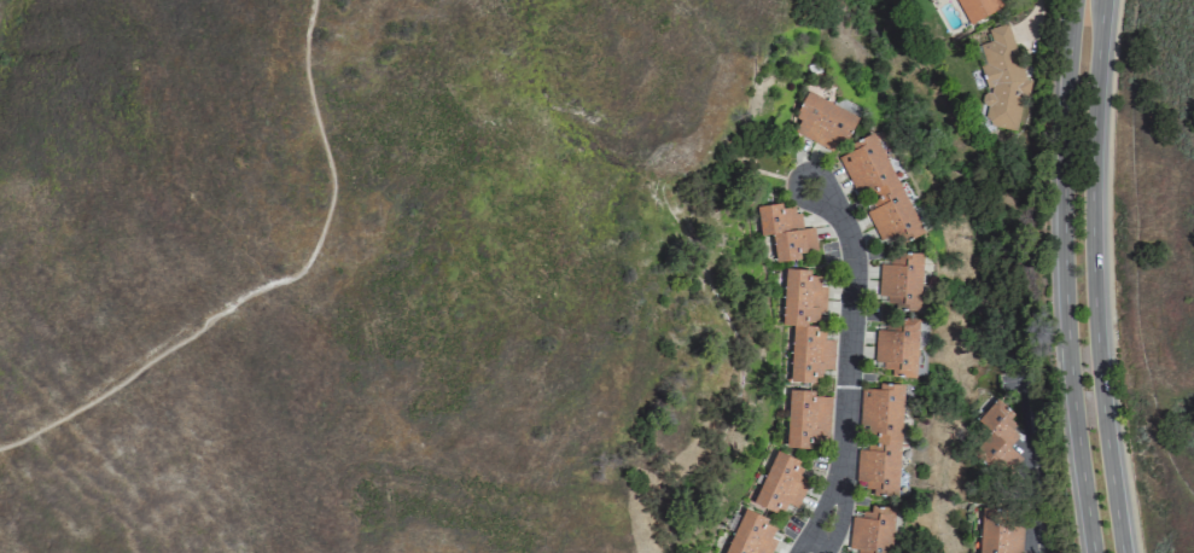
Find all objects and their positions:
building: (977, 8)
building: (1002, 77)
building: (822, 121)
building: (879, 191)
building: (784, 231)
road: (1064, 276)
road: (1093, 276)
building: (901, 280)
road: (270, 285)
building: (805, 325)
building: (897, 348)
road: (849, 362)
building: (808, 419)
building: (997, 438)
building: (879, 441)
road: (1033, 456)
building: (780, 484)
building: (872, 530)
building: (998, 534)
building: (751, 535)

